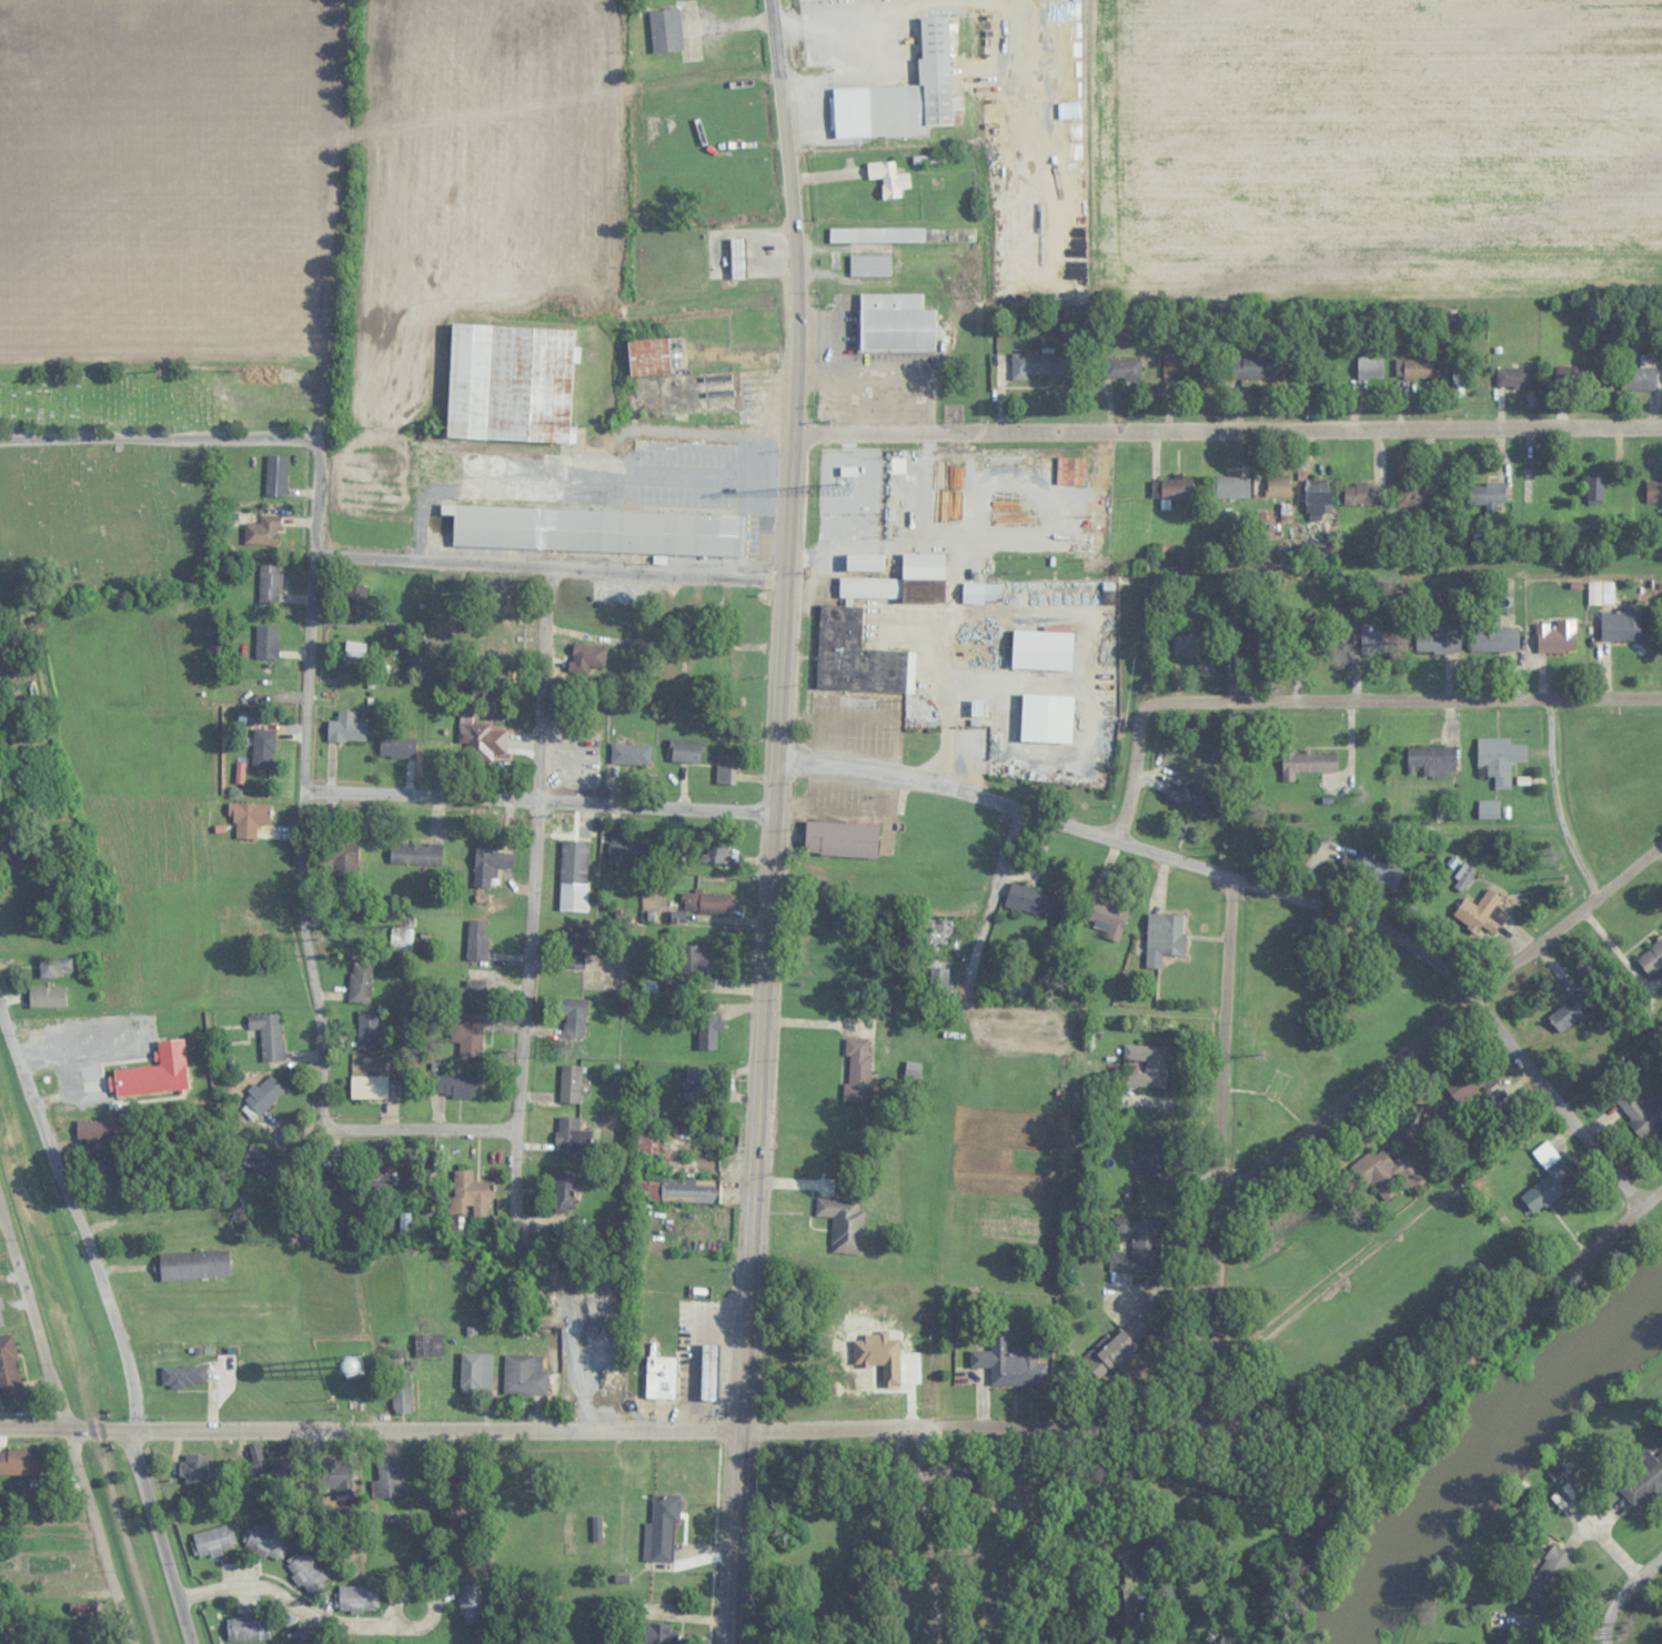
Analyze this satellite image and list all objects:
building: (666, 30)
building: (914, 91)
building: (715, 121)
building: (722, 158)
building: (889, 178)
building: (727, 209)
building: (876, 234)
building: (870, 265)
building: (895, 323)
building: (648, 356)
building: (1041, 365)
building: (1246, 366)
building: (1370, 367)
building: (1412, 367)
building: (1185, 369)
building: (1122, 370)
building: (1640, 373)
building: (1515, 376)
building: (1574, 377)
building: (511, 382)
road: (1227, 433)
road: (705, 434)
building: (1070, 471)
building: (276, 475)
building: (1278, 485)
building: (1230, 486)
building: (1175, 487)
building: (1595, 491)
building: (1653, 491)
building: (1362, 493)
building: (1489, 493)
building: (1319, 494)
building: (1417, 494)
building: (597, 529)
building: (263, 531)
building: (865, 562)
building: (924, 565)
road: (551, 568)
building: (270, 582)
building: (870, 587)
building: (981, 593)
building: (354, 599)
road: (551, 601)
building: (1621, 624)
road: (310, 626)
building: (1247, 635)
building: (1555, 636)
building: (1316, 638)
building: (1441, 638)
building: (1497, 638)
building: (266, 642)
building: (1370, 642)
building: (1189, 644)
building: (1041, 646)
building: (354, 653)
building: (588, 655)
building: (854, 656)
road: (1402, 702)
building: (1047, 717)
building: (346, 728)
building: (484, 740)
building: (404, 747)
building: (263, 748)
building: (686, 752)
building: (626, 753)
building: (1499, 758)
building: (1431, 760)
building: (1308, 763)
building: (726, 769)
road: (1134, 774)
building: (1190, 796)
road: (538, 801)
road: (1557, 803)
building: (1489, 808)
building: (252, 816)
road: (774, 821)
building: (842, 838)
building: (717, 847)
building: (625, 851)
building: (416, 853)
building: (343, 857)
building: (492, 859)
building: (17, 868)
building: (574, 875)
building: (1384, 875)
building: (1463, 877)
road: (1265, 889)
road: (991, 900)
building: (1034, 900)
building: (706, 901)
building: (1482, 912)
building: (1109, 919)
road: (532, 930)
building: (940, 931)
building: (1165, 937)
building: (476, 940)
building: (575, 947)
building: (1652, 958)
building: (688, 962)
building: (56, 967)
building: (939, 980)
building: (360, 982)
building: (470, 996)
building: (49, 1000)
building: (1579, 1002)
building: (573, 1016)
road: (1439, 1027)
building: (367, 1030)
building: (708, 1032)
building: (98, 1035)
building: (269, 1035)
building: (467, 1037)
building: (1146, 1066)
building: (858, 1070)
building: (571, 1083)
building: (694, 1085)
building: (457, 1086)
building: (369, 1087)
building: (264, 1095)
building: (1641, 1112)
road: (420, 1128)
building: (99, 1130)
building: (572, 1136)
building: (646, 1143)
building: (1150, 1154)
road: (1220, 1156)
building: (262, 1160)
building: (108, 1169)
building: (1387, 1171)
building: (1547, 1178)
building: (325, 1181)
building: (691, 1190)
building: (470, 1194)
building: (565, 1200)
building: (844, 1222)
building: (1138, 1245)
building: (194, 1264)
building: (1, 1317)
road: (113, 1319)
building: (1120, 1348)
building: (1009, 1361)
building: (9, 1370)
building: (709, 1372)
building: (475, 1373)
building: (525, 1375)
building: (183, 1376)
building: (662, 1378)
building: (442, 1391)
building: (401, 1392)
building: (421, 1396)
road: (876, 1430)
road: (66, 1431)
building: (258, 1456)
river: (1488, 1458)
building: (20, 1463)
building: (282, 1463)
building: (194, 1469)
building: (340, 1473)
building: (459, 1475)
building: (390, 1479)
building: (1641, 1479)
building: (420, 1489)
building: (661, 1530)
road: (931, 1536)
building: (212, 1541)
building: (265, 1542)
building: (306, 1573)
building: (1549, 1574)
building: (1125, 1596)
road: (1623, 1596)
building: (356, 1598)
building: (470, 1604)
building: (81, 1607)
building: (249, 1626)
building: (1504, 1638)

